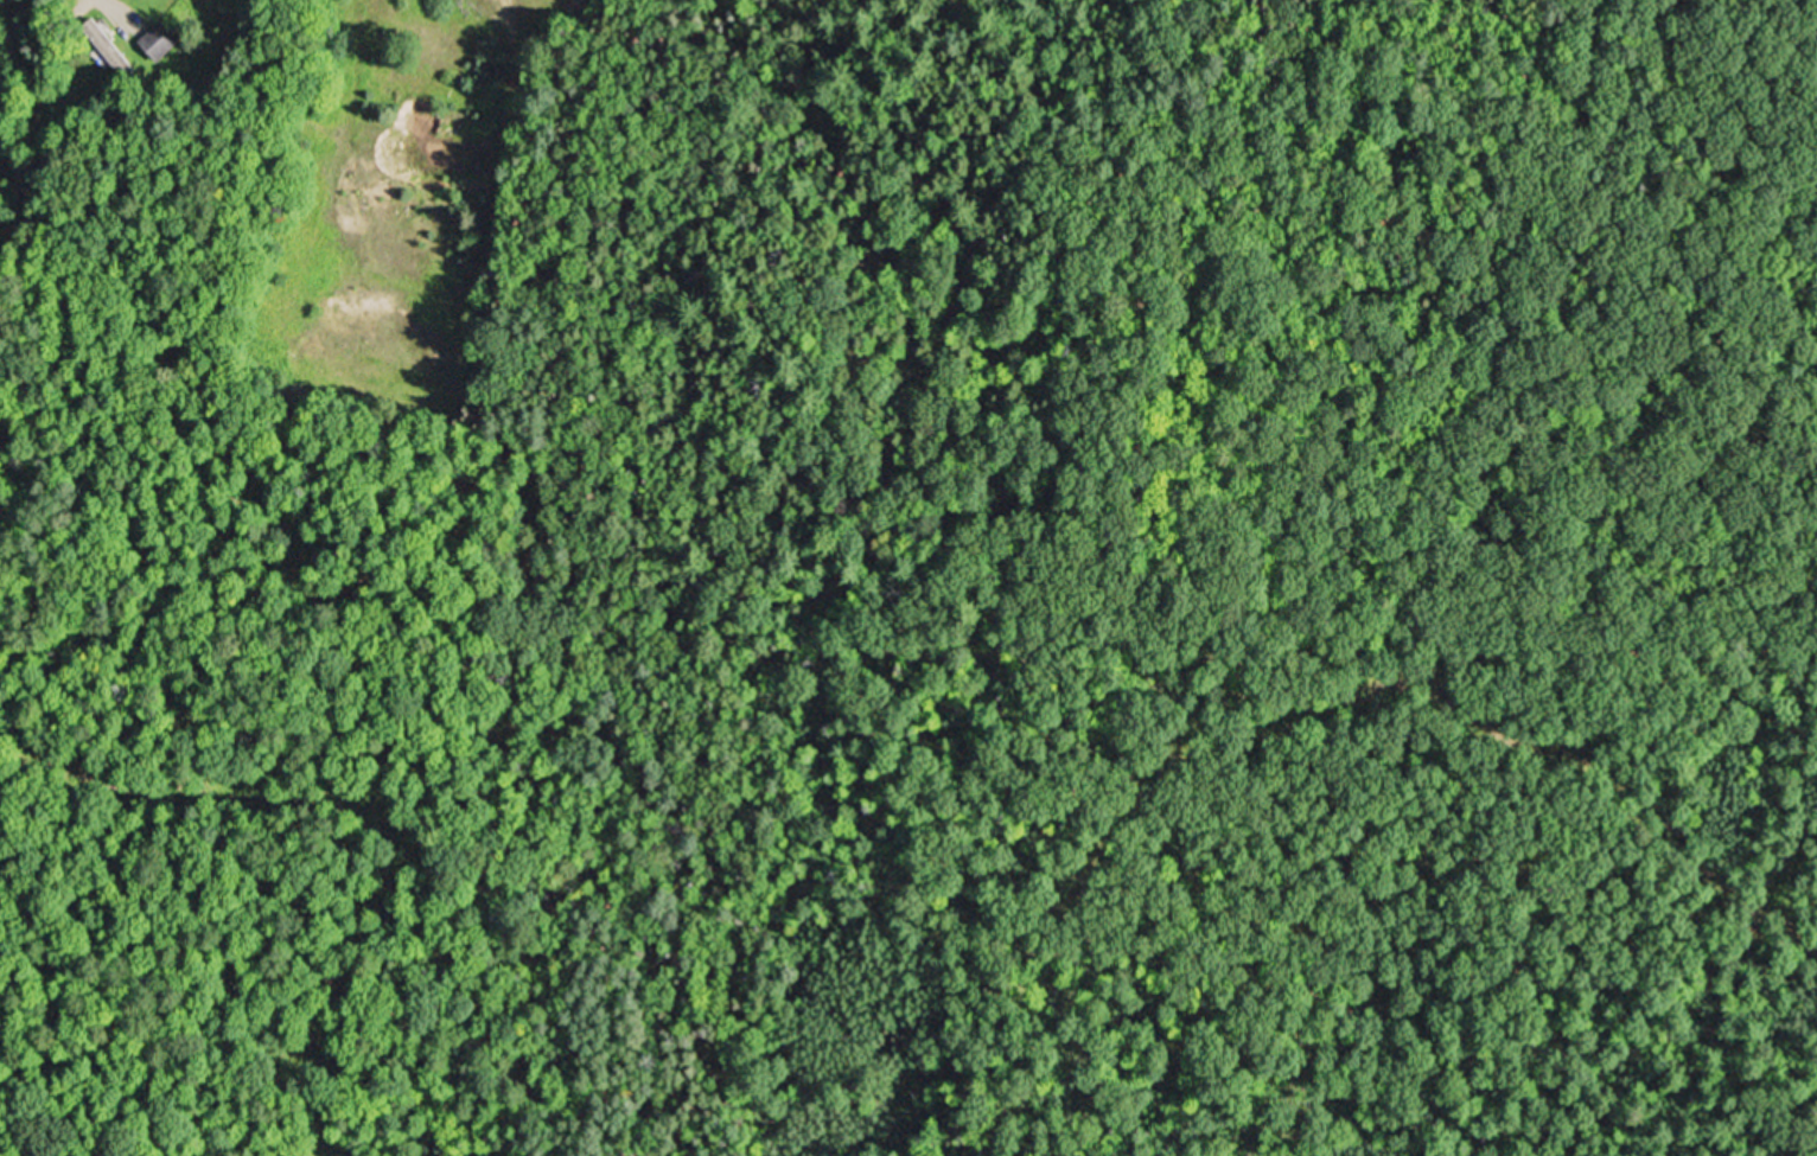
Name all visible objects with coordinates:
road: (97, 1)
building: (166, 39)

